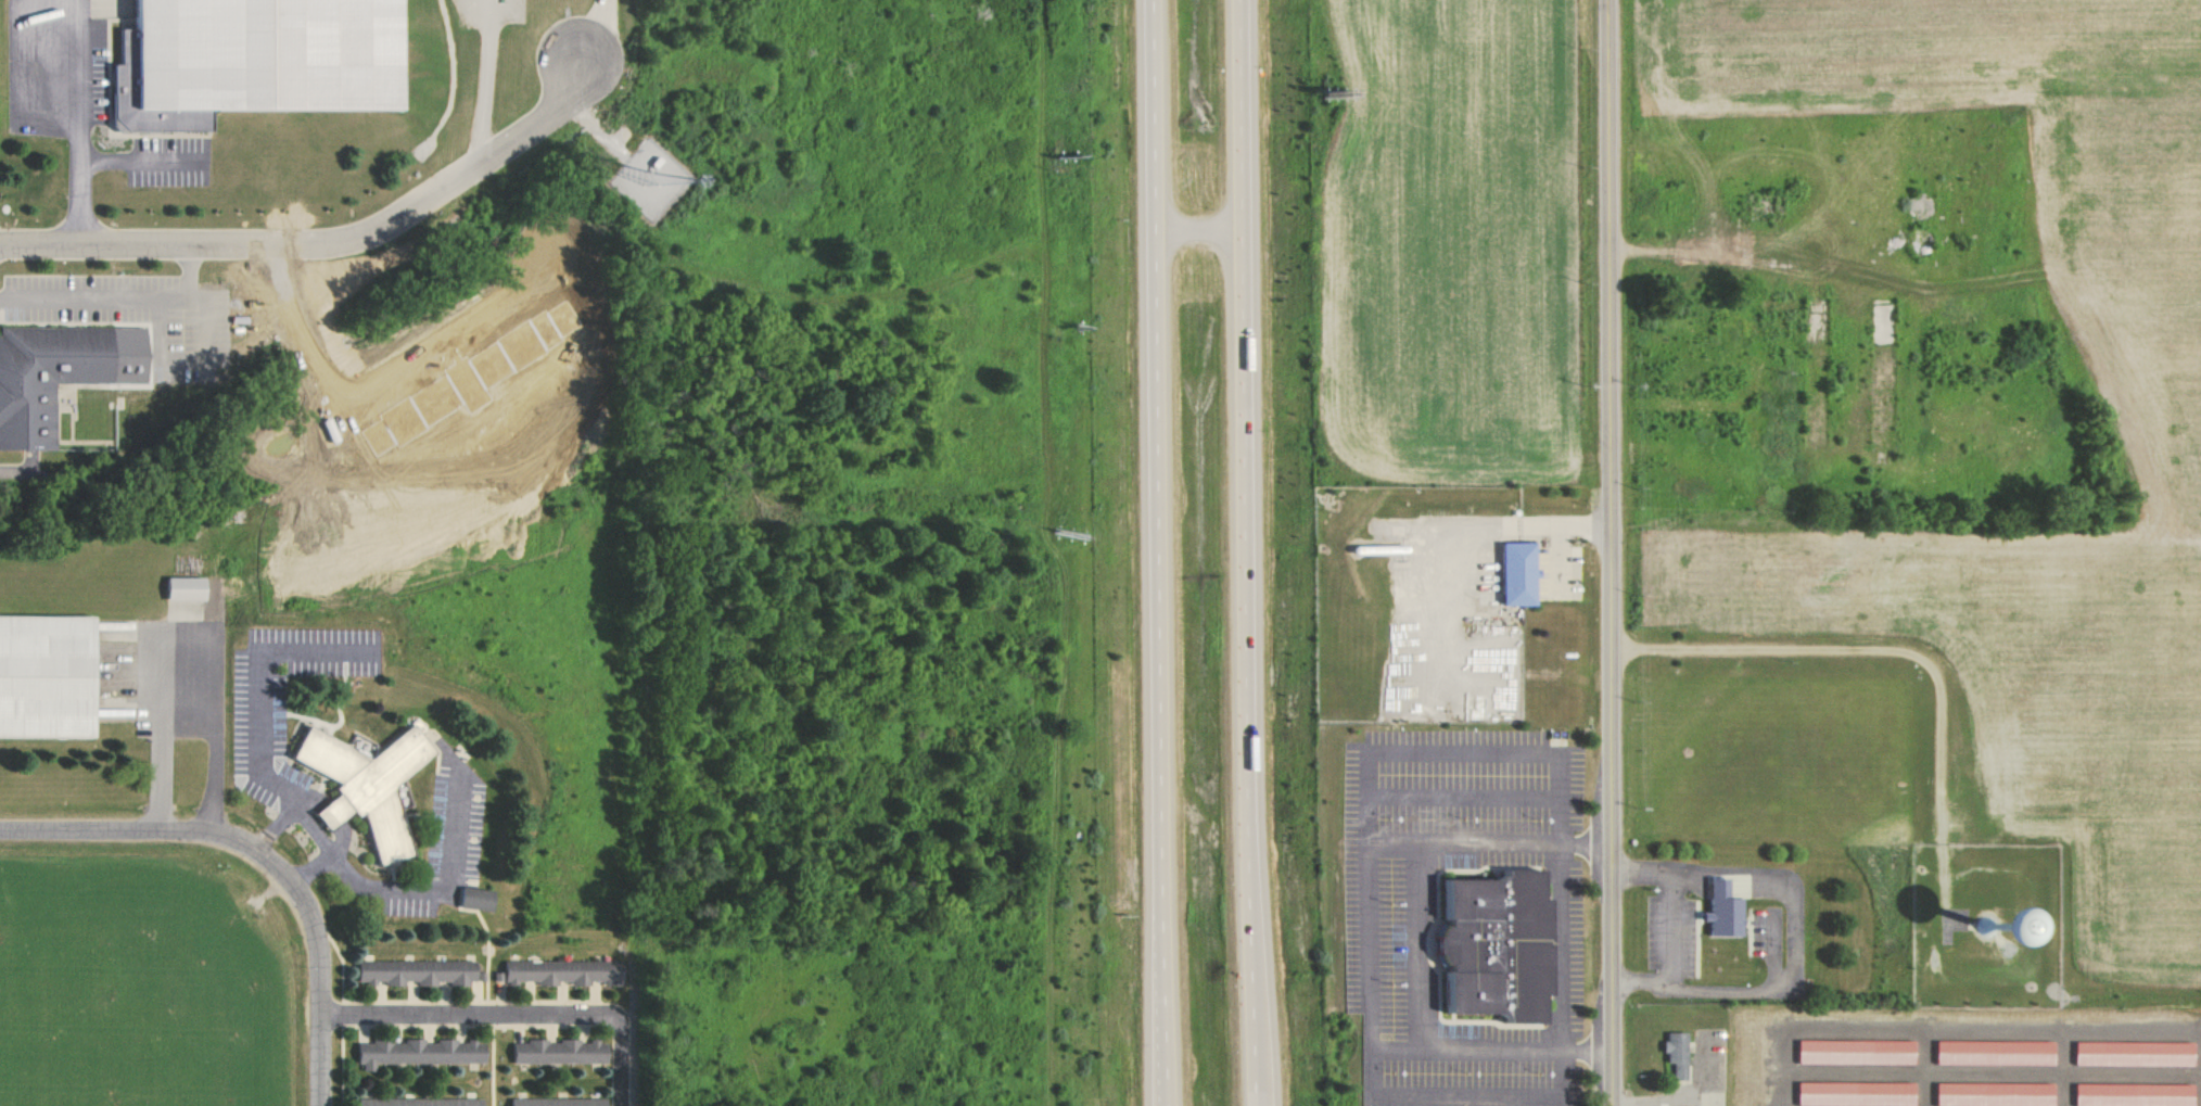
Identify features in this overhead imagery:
building: (252, 59)
road: (65, 123)
road: (321, 240)
building: (62, 374)
road: (1162, 552)
road: (1249, 552)
road: (1605, 552)
building: (1504, 581)
building: (173, 595)
building: (39, 682)
building: (365, 784)
road: (263, 854)
building: (467, 903)
building: (1719, 910)
building: (1950, 928)
water tower: (1975, 930)
building: (1484, 951)
building: (417, 971)
building: (562, 971)
road: (512, 1014)
building: (418, 1052)
building: (559, 1052)
building: (1674, 1054)
building: (1844, 1057)
building: (1982, 1059)
building: (2121, 1060)
building: (1843, 1097)
building: (1981, 1097)
building: (2120, 1098)
building: (418, 1102)
building: (558, 1102)

